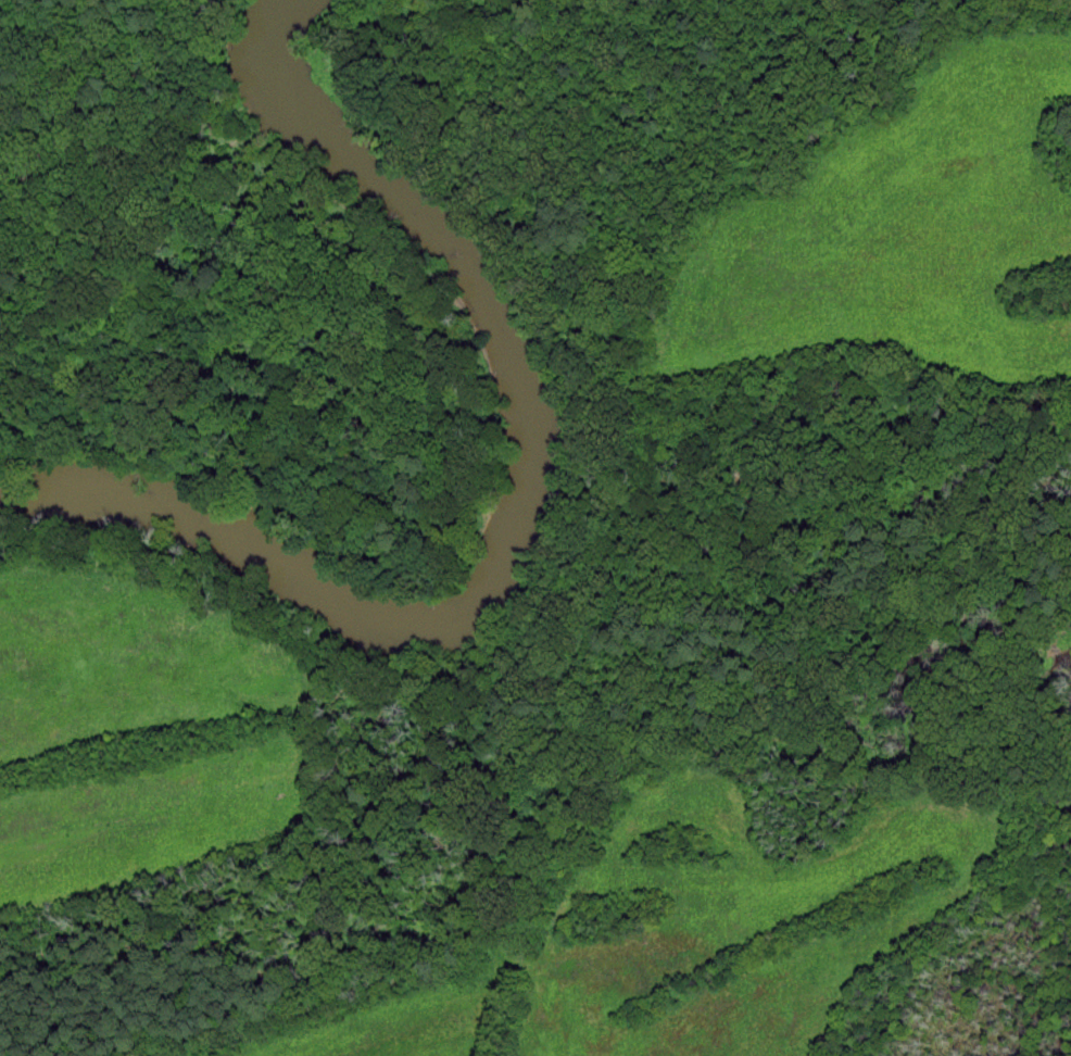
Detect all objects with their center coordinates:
river: (522, 523)
road: (675, 731)

